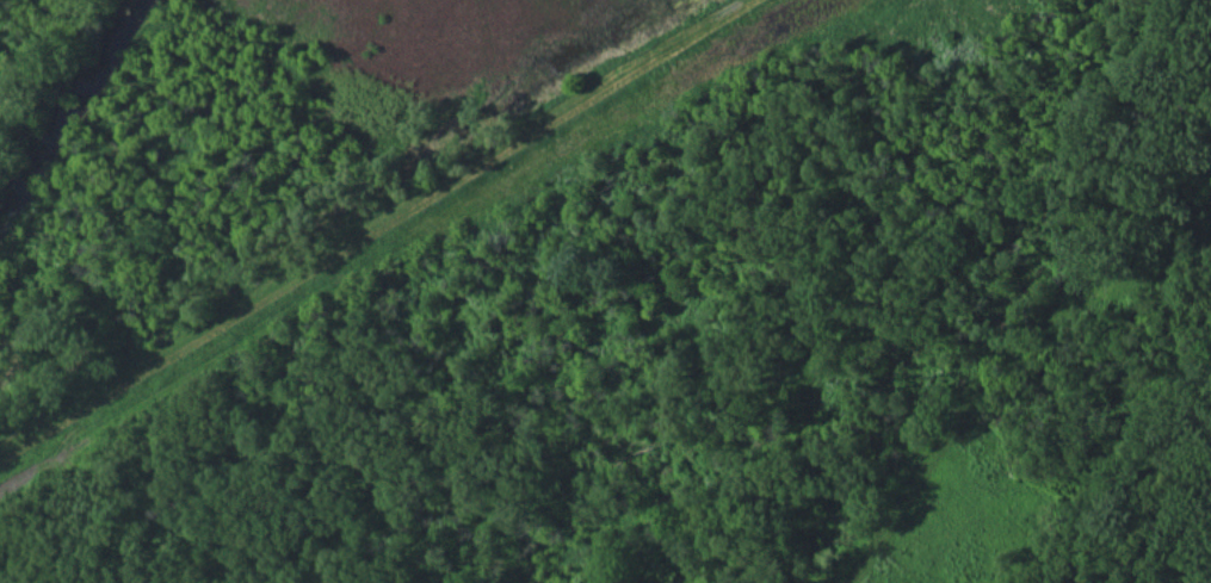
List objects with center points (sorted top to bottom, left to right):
road: (968, 351)

